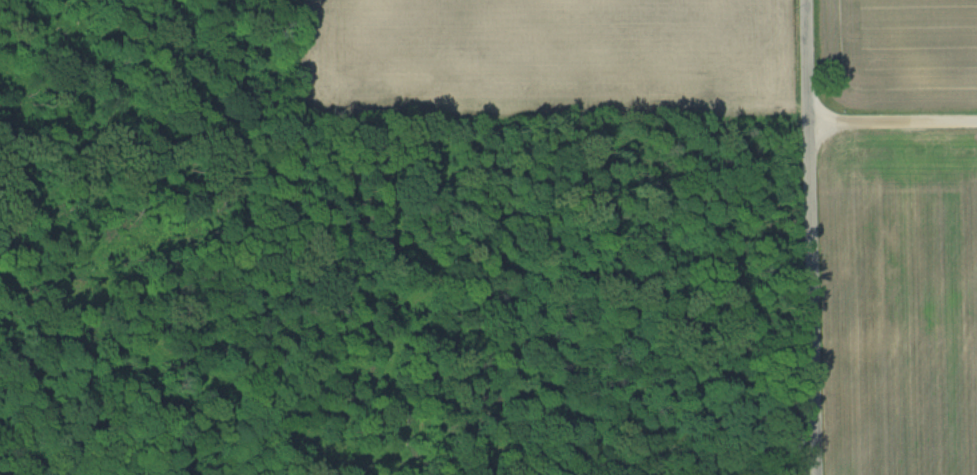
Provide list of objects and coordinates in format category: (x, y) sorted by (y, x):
road: (894, 121)
road: (813, 237)

